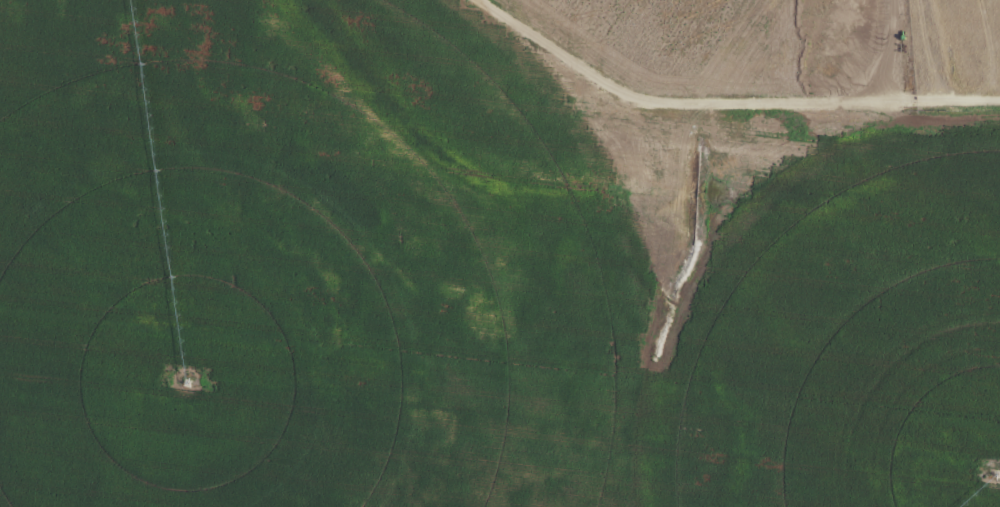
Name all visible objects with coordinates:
road: (566, 120)

